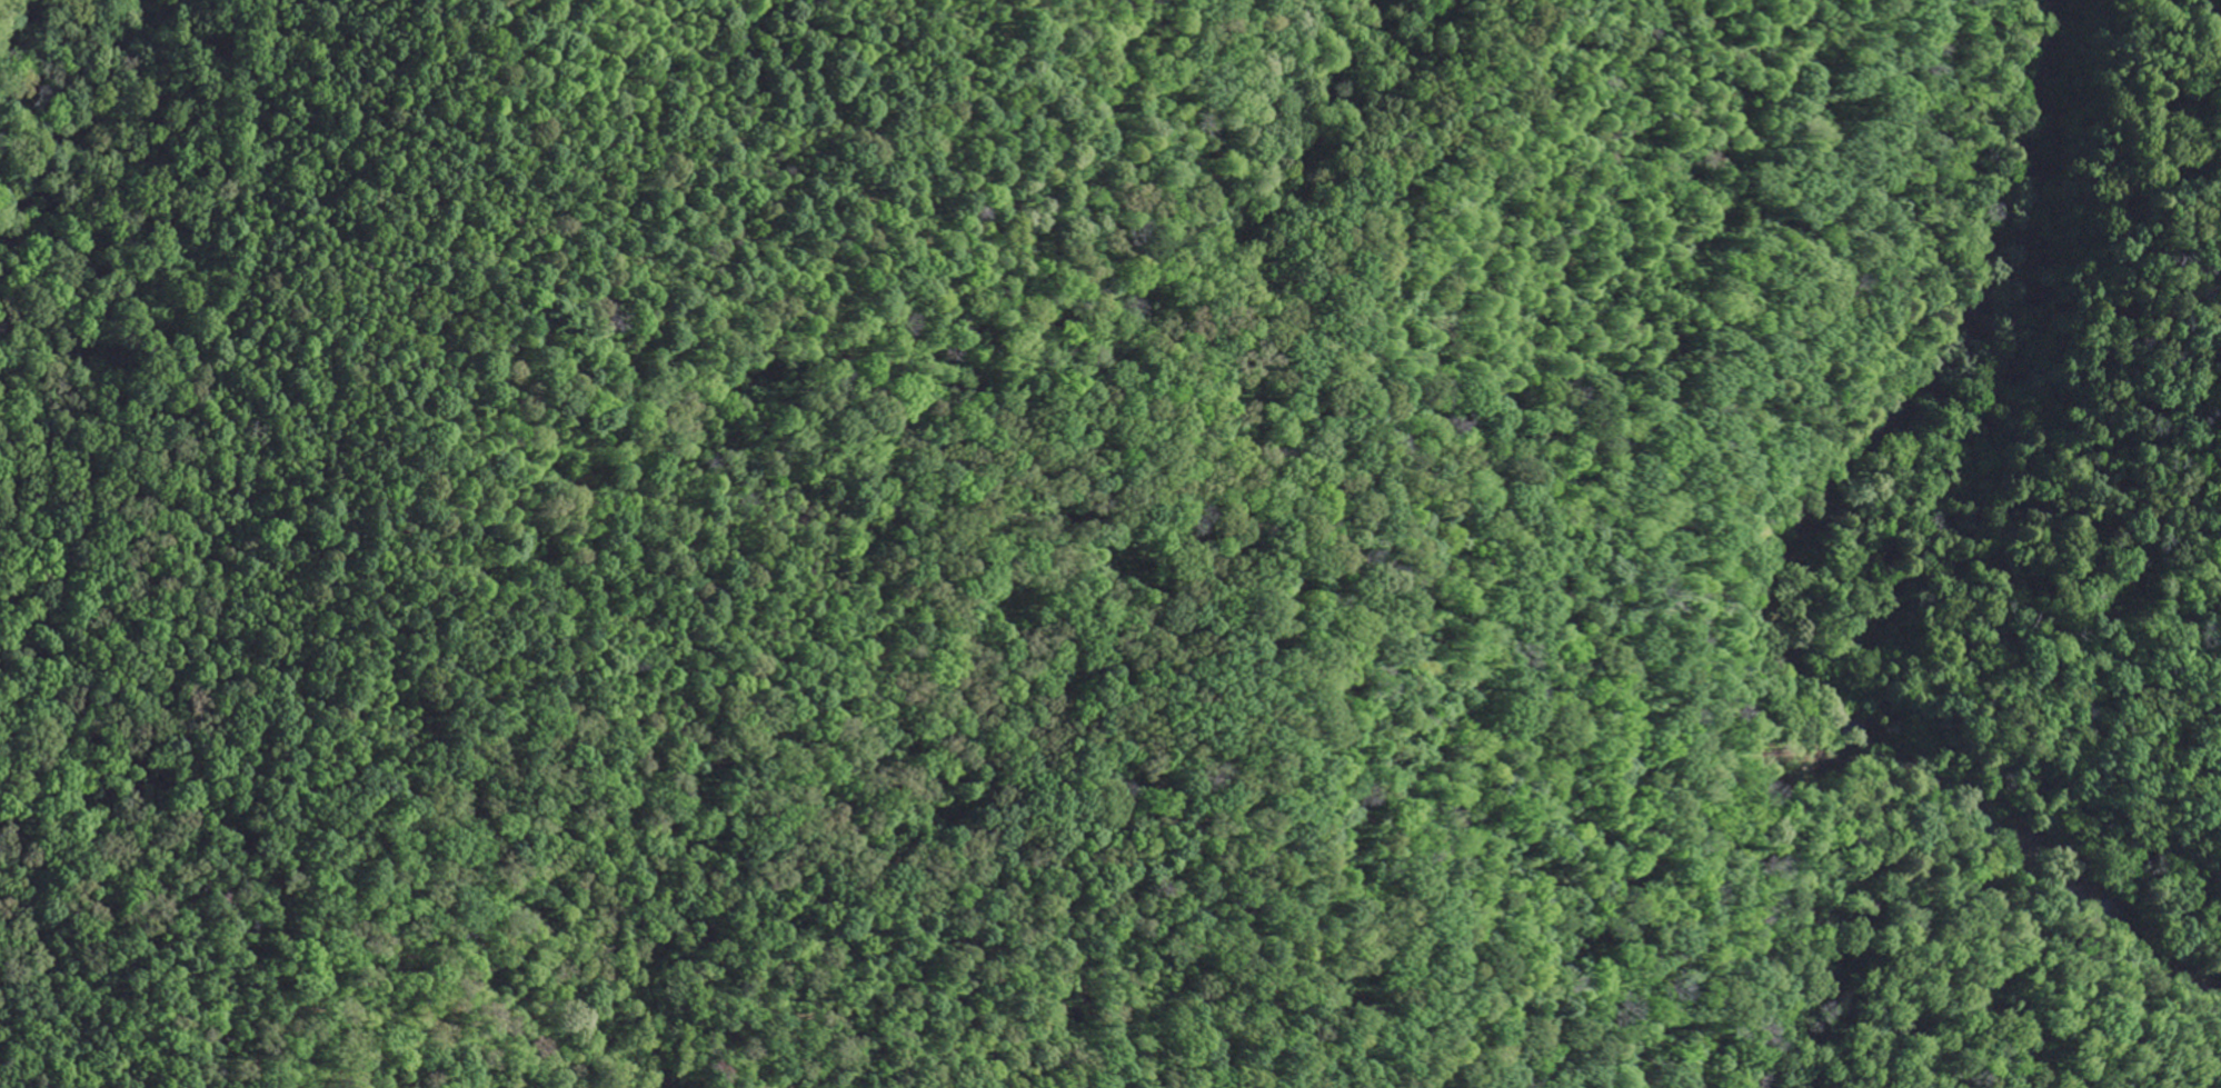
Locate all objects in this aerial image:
road: (2143, 453)

